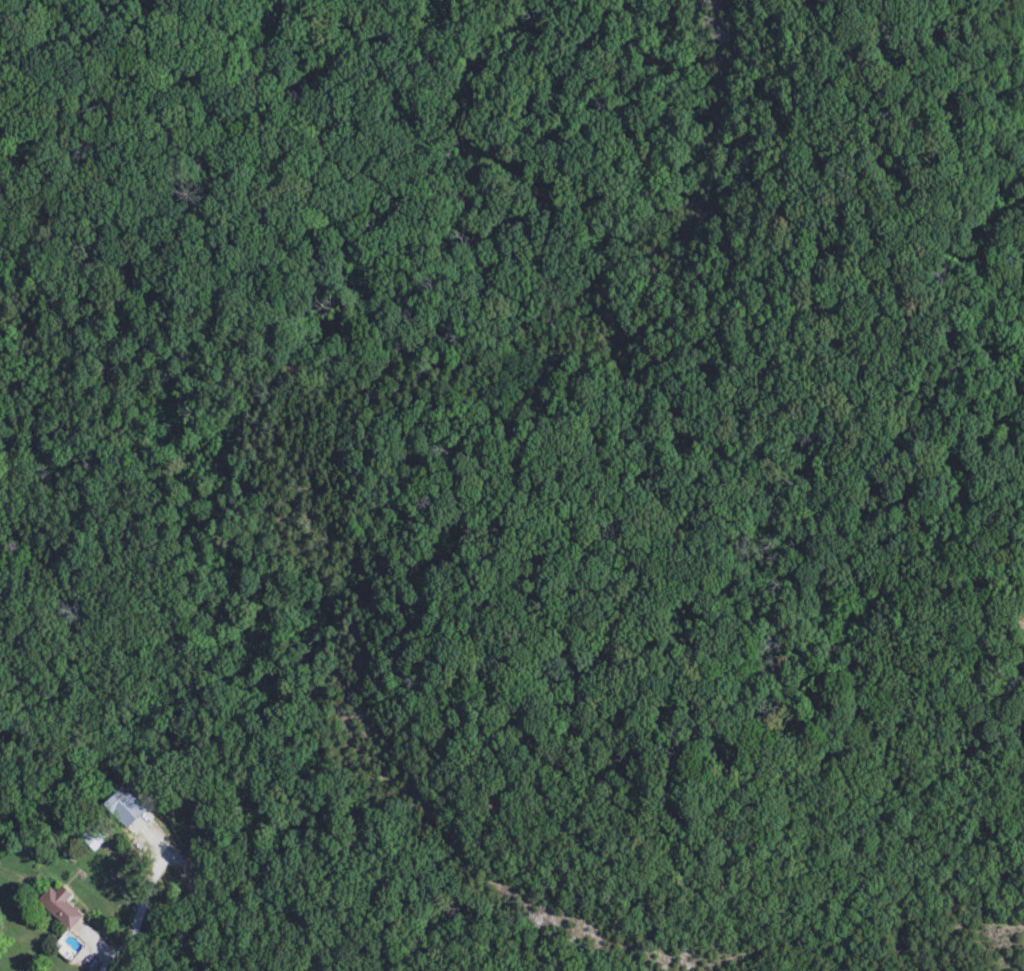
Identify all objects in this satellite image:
building: (116, 801)
building: (95, 837)
building: (58, 908)
road: (101, 949)

